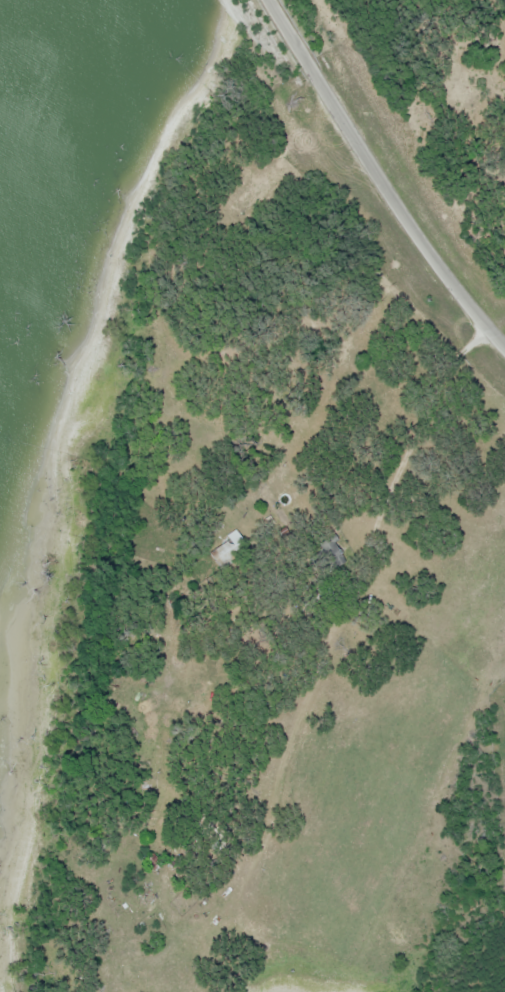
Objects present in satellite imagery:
river: (16, 49)
road: (379, 176)
building: (227, 550)
building: (326, 554)
road: (353, 591)
building: (152, 861)

